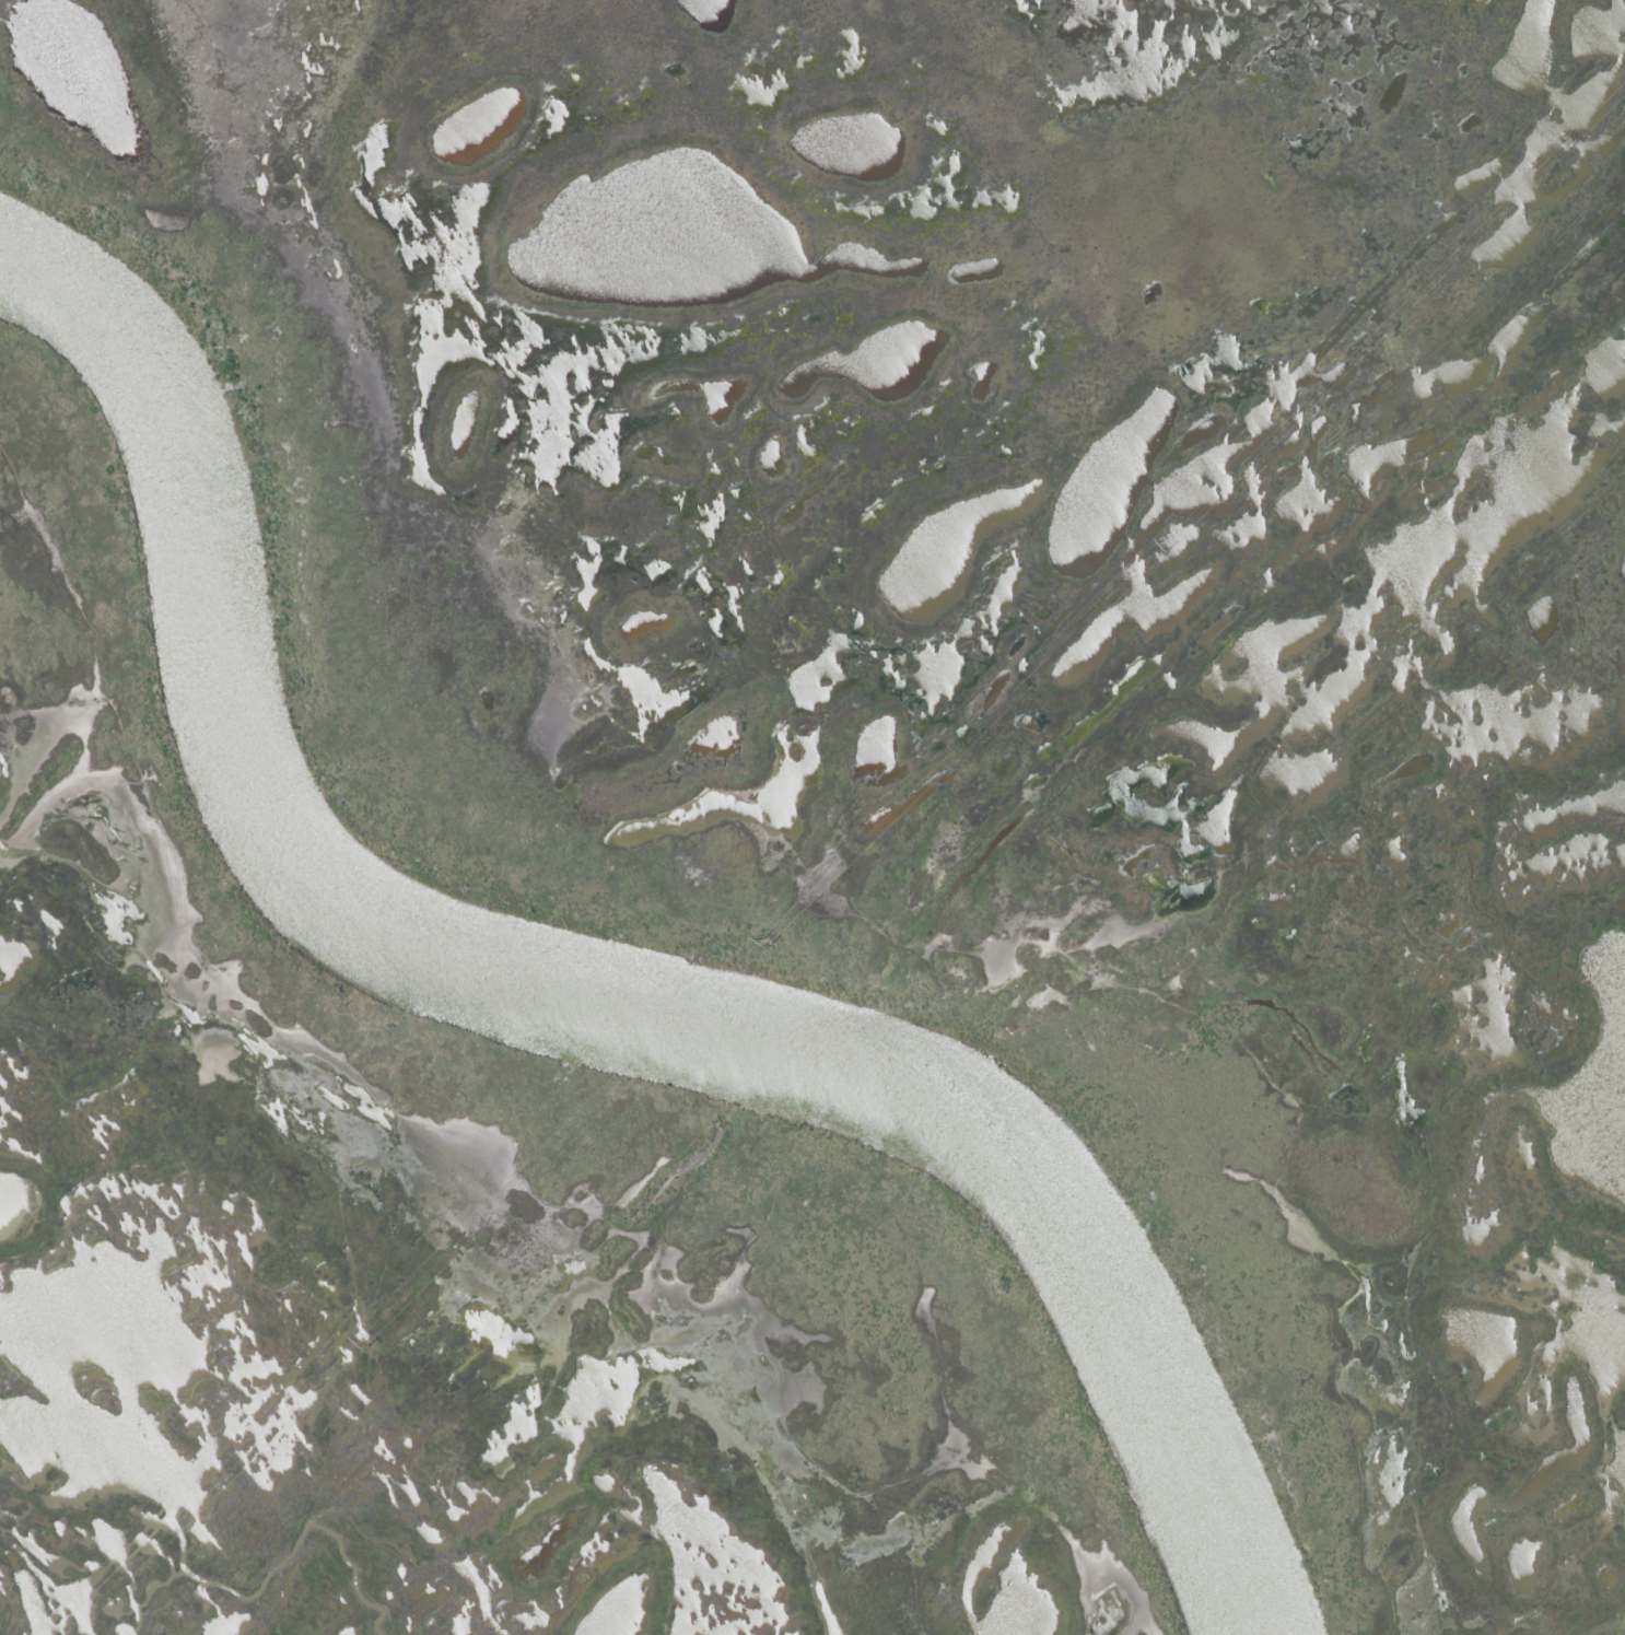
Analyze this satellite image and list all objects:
power tower: (1566, 144)
power tower: (1167, 542)
power tower: (765, 939)
river: (573, 978)
power tower: (365, 1341)

